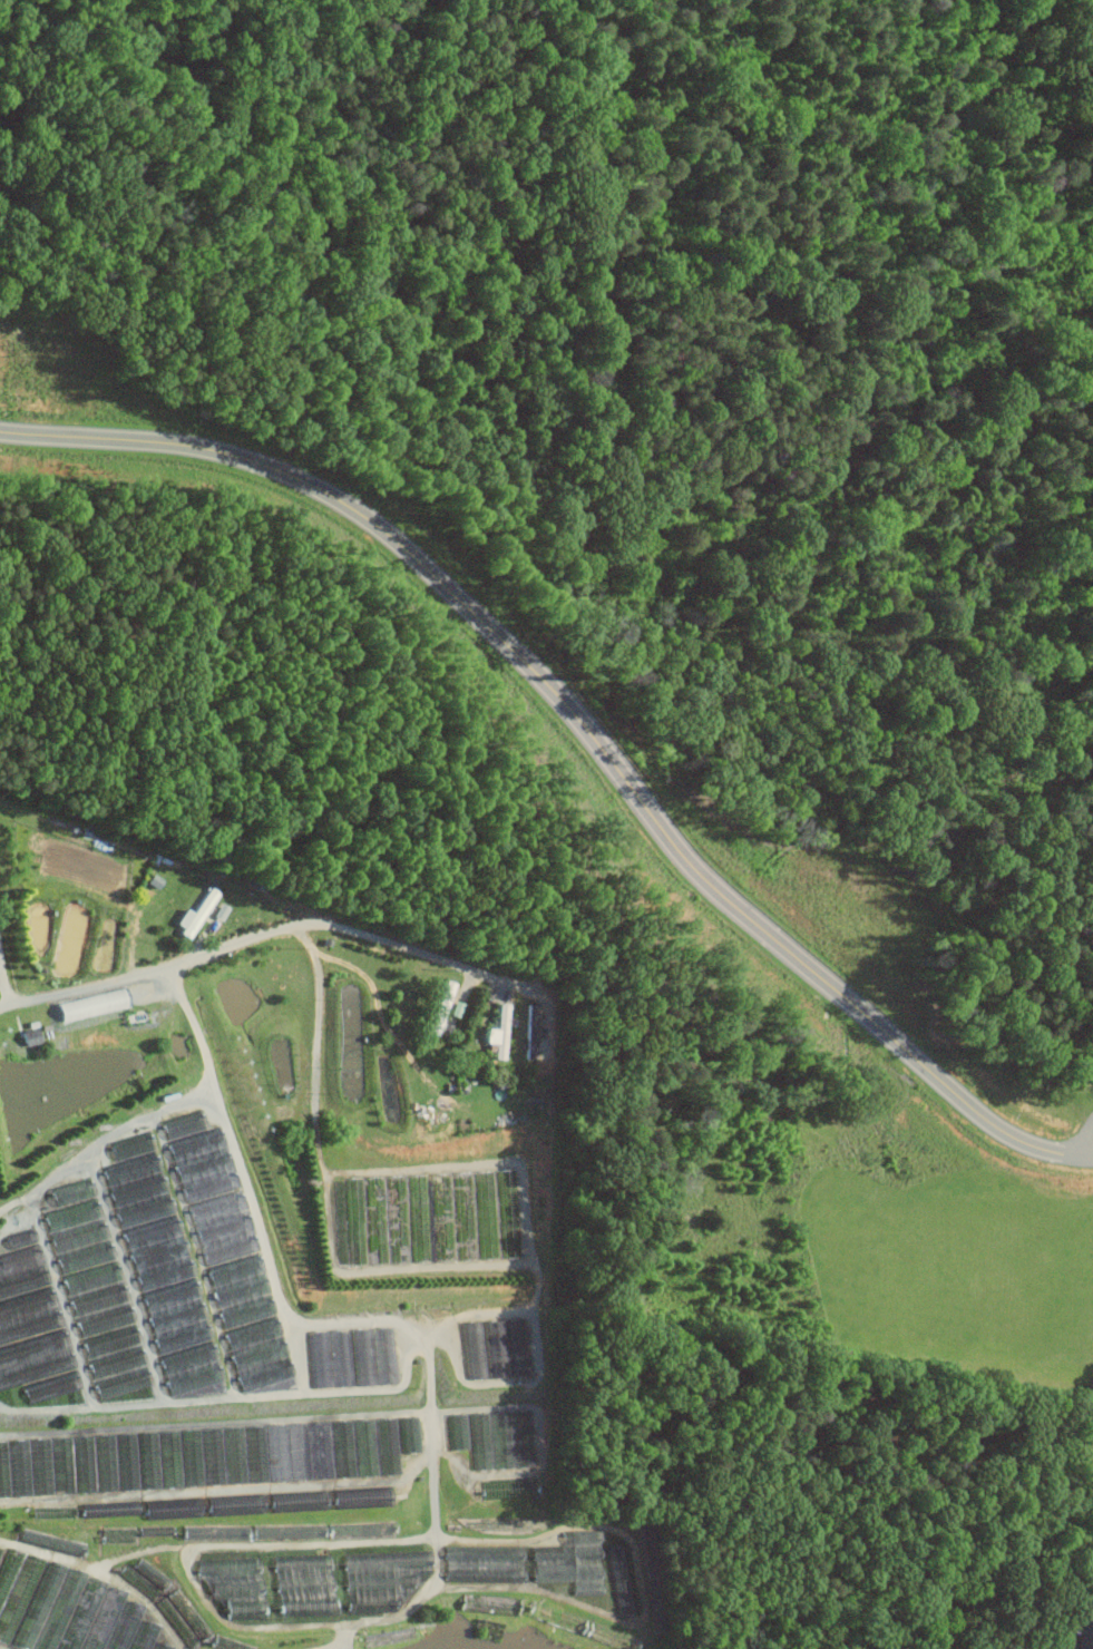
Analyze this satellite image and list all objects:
park: (665, 705)
road: (578, 719)
building: (192, 914)
road: (266, 938)
road: (194, 947)
road: (3, 985)
road: (8, 995)
building: (82, 1006)
building: (438, 1006)
building: (498, 1030)
building: (529, 1031)
building: (28, 1036)
road: (1085, 1138)
road: (103, 1140)
road: (1087, 1155)
road: (424, 1168)
road: (4, 1214)
building: (433, 1217)
building: (230, 1258)
building: (159, 1266)
road: (380, 1268)
road: (127, 1275)
building: (92, 1289)
road: (60, 1298)
road: (369, 1318)
building: (29, 1325)
building: (494, 1348)
building: (353, 1356)
road: (274, 1394)
road: (45, 1406)
road: (214, 1423)
building: (491, 1437)
building: (206, 1456)
road: (219, 1489)
building: (361, 1496)
building: (218, 1503)
building: (250, 1504)
road: (214, 1543)
building: (569, 1562)
building: (481, 1563)
building: (379, 1578)
building: (618, 1579)
building: (233, 1584)
building: (302, 1585)
building: (67, 1609)
building: (1084, 1633)

